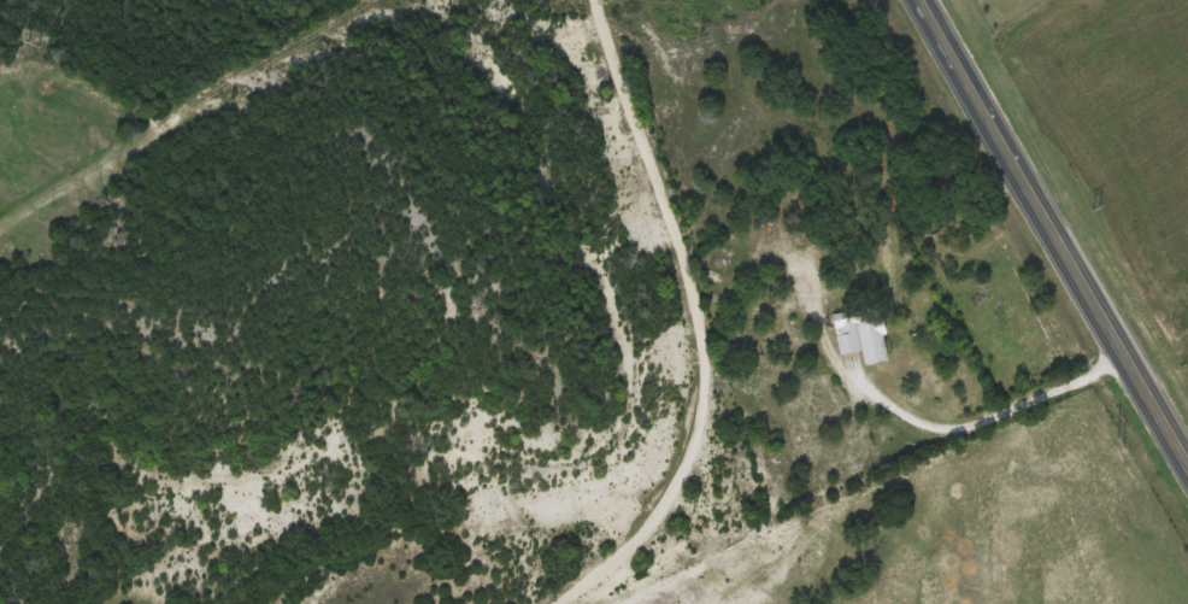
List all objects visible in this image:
power tower: (33, 43)
road: (1053, 233)
building: (864, 333)
power tower: (1119, 442)

